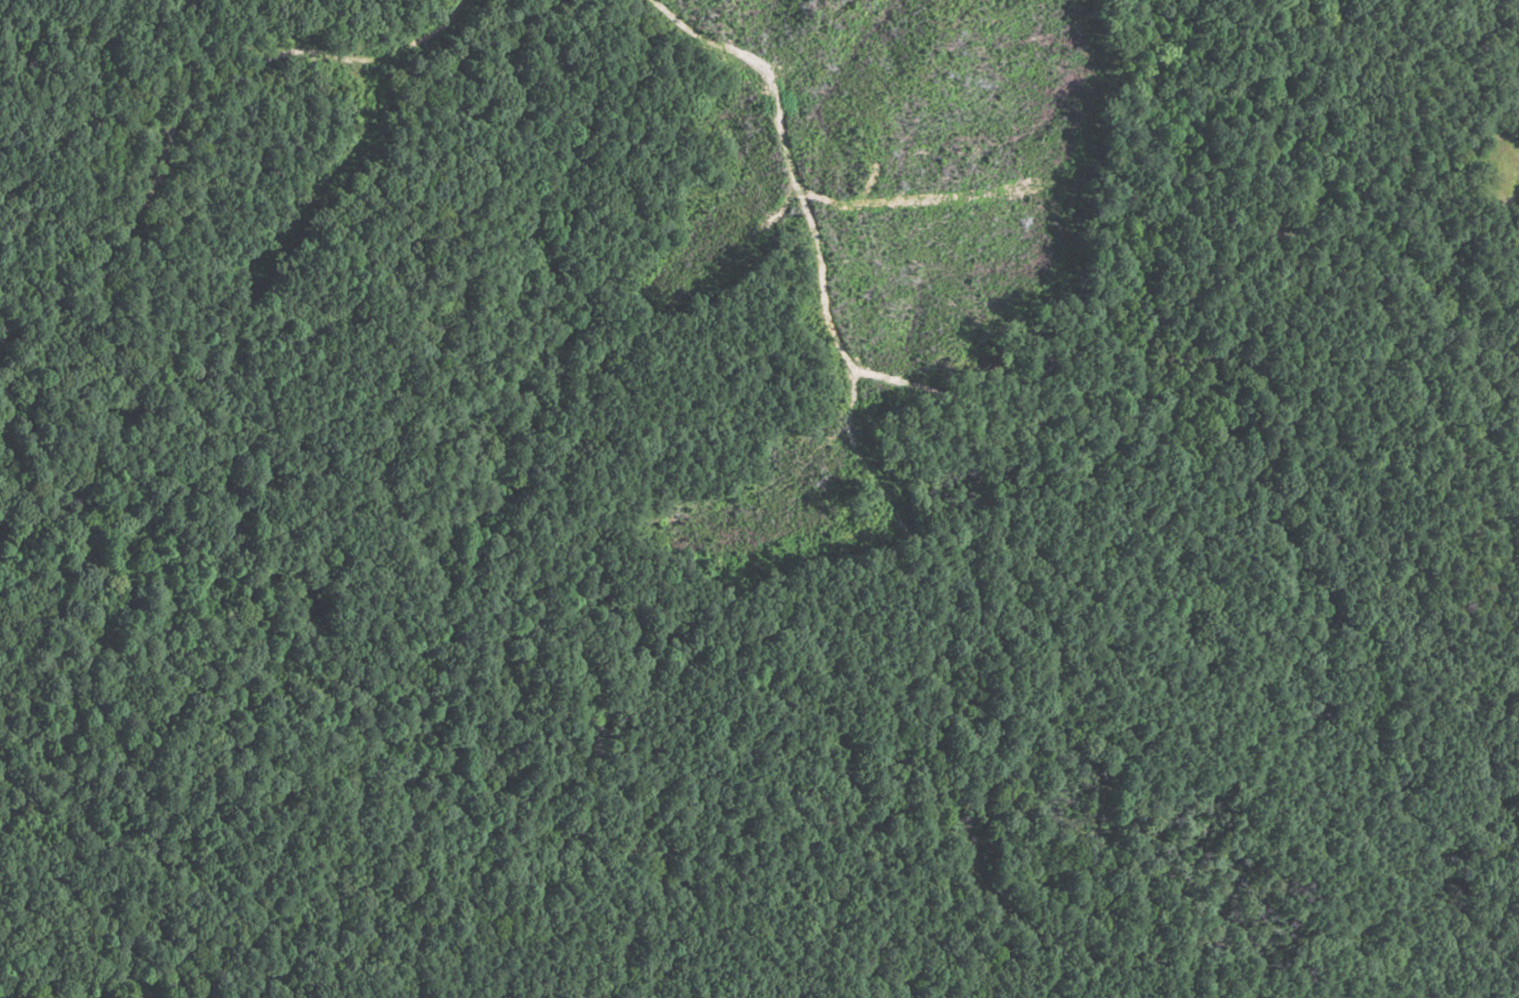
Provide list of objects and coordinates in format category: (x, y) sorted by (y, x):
road: (1325, 957)

